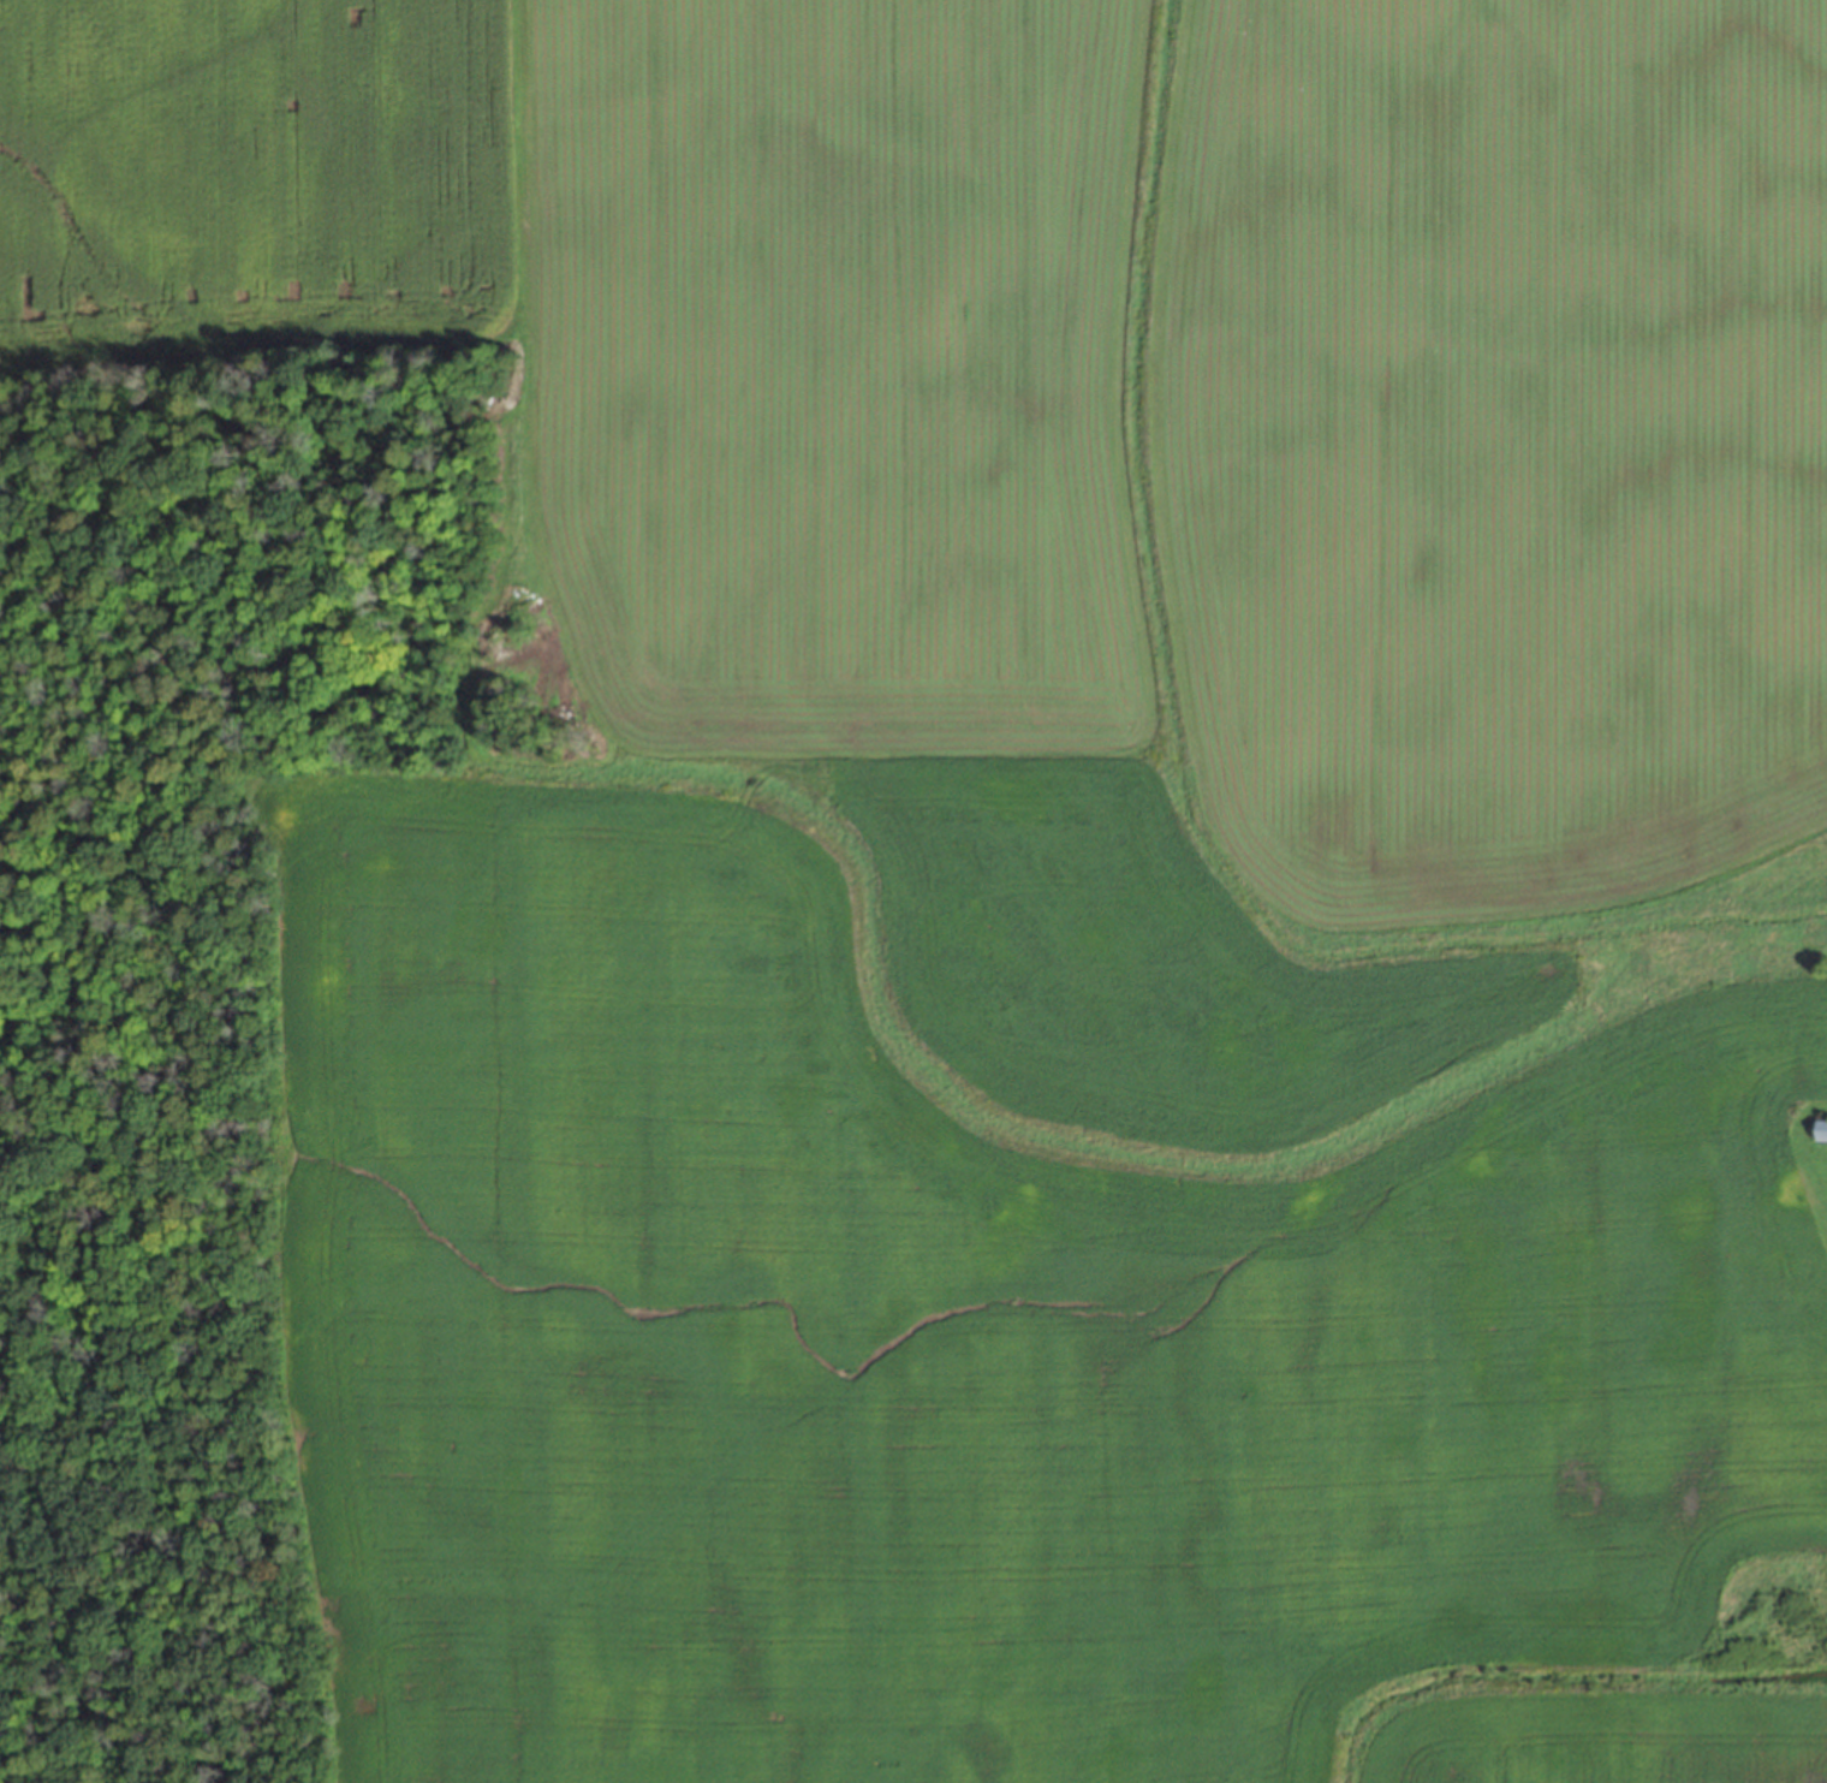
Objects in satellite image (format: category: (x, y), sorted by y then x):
building: (1820, 1130)
building: (1787, 1224)

